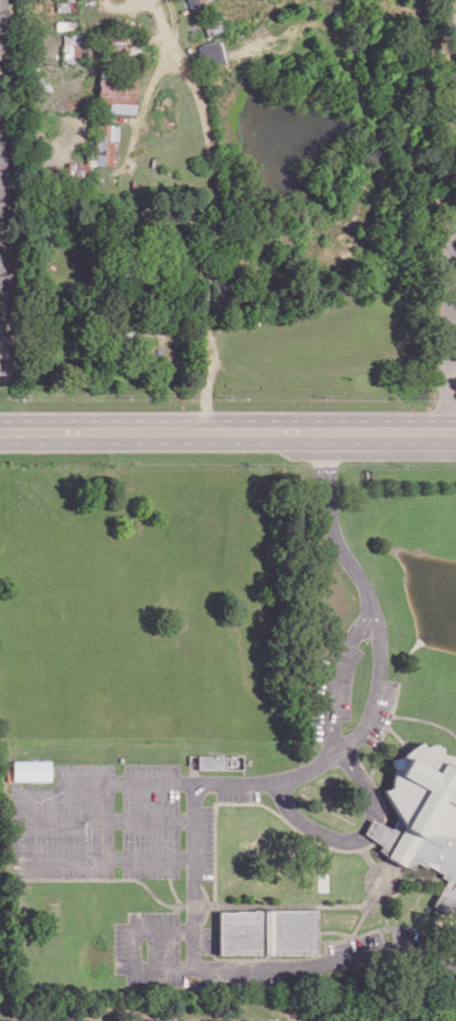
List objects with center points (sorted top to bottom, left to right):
building: (67, 6)
building: (3, 16)
parking lot: (454, 31)
building: (211, 54)
building: (455, 56)
building: (451, 77)
building: (118, 92)
building: (109, 144)
building: (2, 181)
road: (211, 210)
building: (2, 305)
road: (452, 327)
road: (448, 330)
road: (452, 365)
road: (227, 433)
road: (329, 520)
street lamp: (366, 641)
road: (346, 644)
street lamp: (389, 676)
parking lot: (342, 693)
road: (425, 719)
street lamp: (354, 724)
road: (384, 729)
road: (396, 733)
road: (339, 749)
road: (455, 752)
building: (220, 760)
building: (31, 769)
street lamp: (122, 771)
road: (373, 783)
road: (47, 791)
street lamp: (265, 796)
street lamp: (162, 801)
street lamp: (205, 803)
building: (425, 814)
road: (111, 816)
road: (364, 821)
street lamp: (86, 822)
parking lot: (115, 822)
road: (374, 827)
building: (377, 829)
road: (379, 831)
street lamp: (139, 839)
road: (372, 862)
road: (193, 874)
street lamp: (156, 878)
road: (413, 878)
street lamp: (203, 881)
road: (173, 891)
road: (372, 897)
road: (384, 902)
road: (187, 904)
road: (207, 904)
road: (175, 907)
street lamp: (153, 908)
road: (215, 926)
building: (269, 930)
road: (336, 930)
parking lot: (379, 938)
street lamp: (111, 949)
parking lot: (167, 952)
street lamp: (205, 956)
road: (250, 968)
building: (23, 1020)
building: (85, 1020)
building: (162, 1020)
building: (224, 1020)

